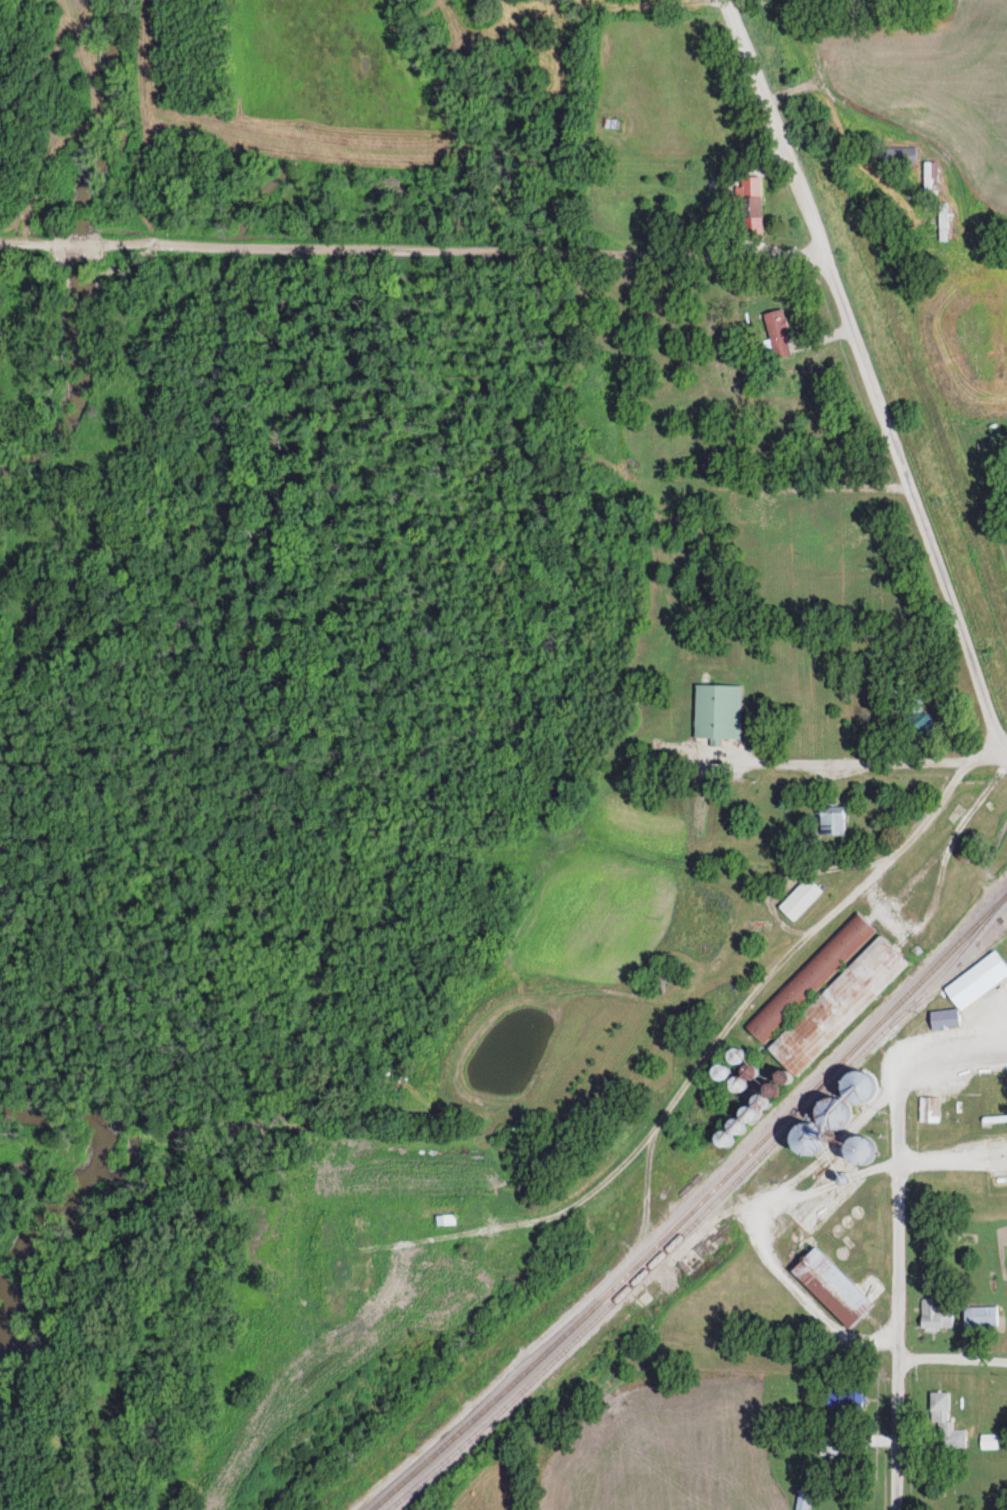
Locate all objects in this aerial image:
building: (904, 111)
building: (610, 123)
building: (897, 154)
building: (929, 175)
building: (751, 215)
road: (157, 246)
road: (567, 249)
building: (778, 333)
road: (867, 372)
building: (773, 448)
building: (712, 460)
road: (838, 488)
building: (750, 515)
building: (854, 531)
building: (875, 595)
building: (717, 712)
building: (921, 724)
road: (879, 762)
building: (831, 821)
building: (799, 900)
building: (809, 977)
building: (664, 978)
railway: (946, 980)
building: (857, 983)
building: (969, 990)
road: (725, 1025)
building: (735, 1056)
road: (948, 1062)
building: (718, 1073)
building: (741, 1079)
building: (857, 1083)
building: (762, 1097)
building: (928, 1108)
building: (830, 1114)
building: (731, 1129)
building: (807, 1137)
building: (721, 1140)
building: (857, 1150)
road: (820, 1157)
railway: (694, 1207)
railway: (705, 1210)
building: (441, 1216)
building: (512, 1250)
building: (339, 1271)
building: (831, 1288)
road: (896, 1298)
building: (936, 1313)
building: (979, 1316)
building: (844, 1399)
building: (945, 1426)
building: (988, 1441)
building: (829, 1448)
building: (802, 1501)

